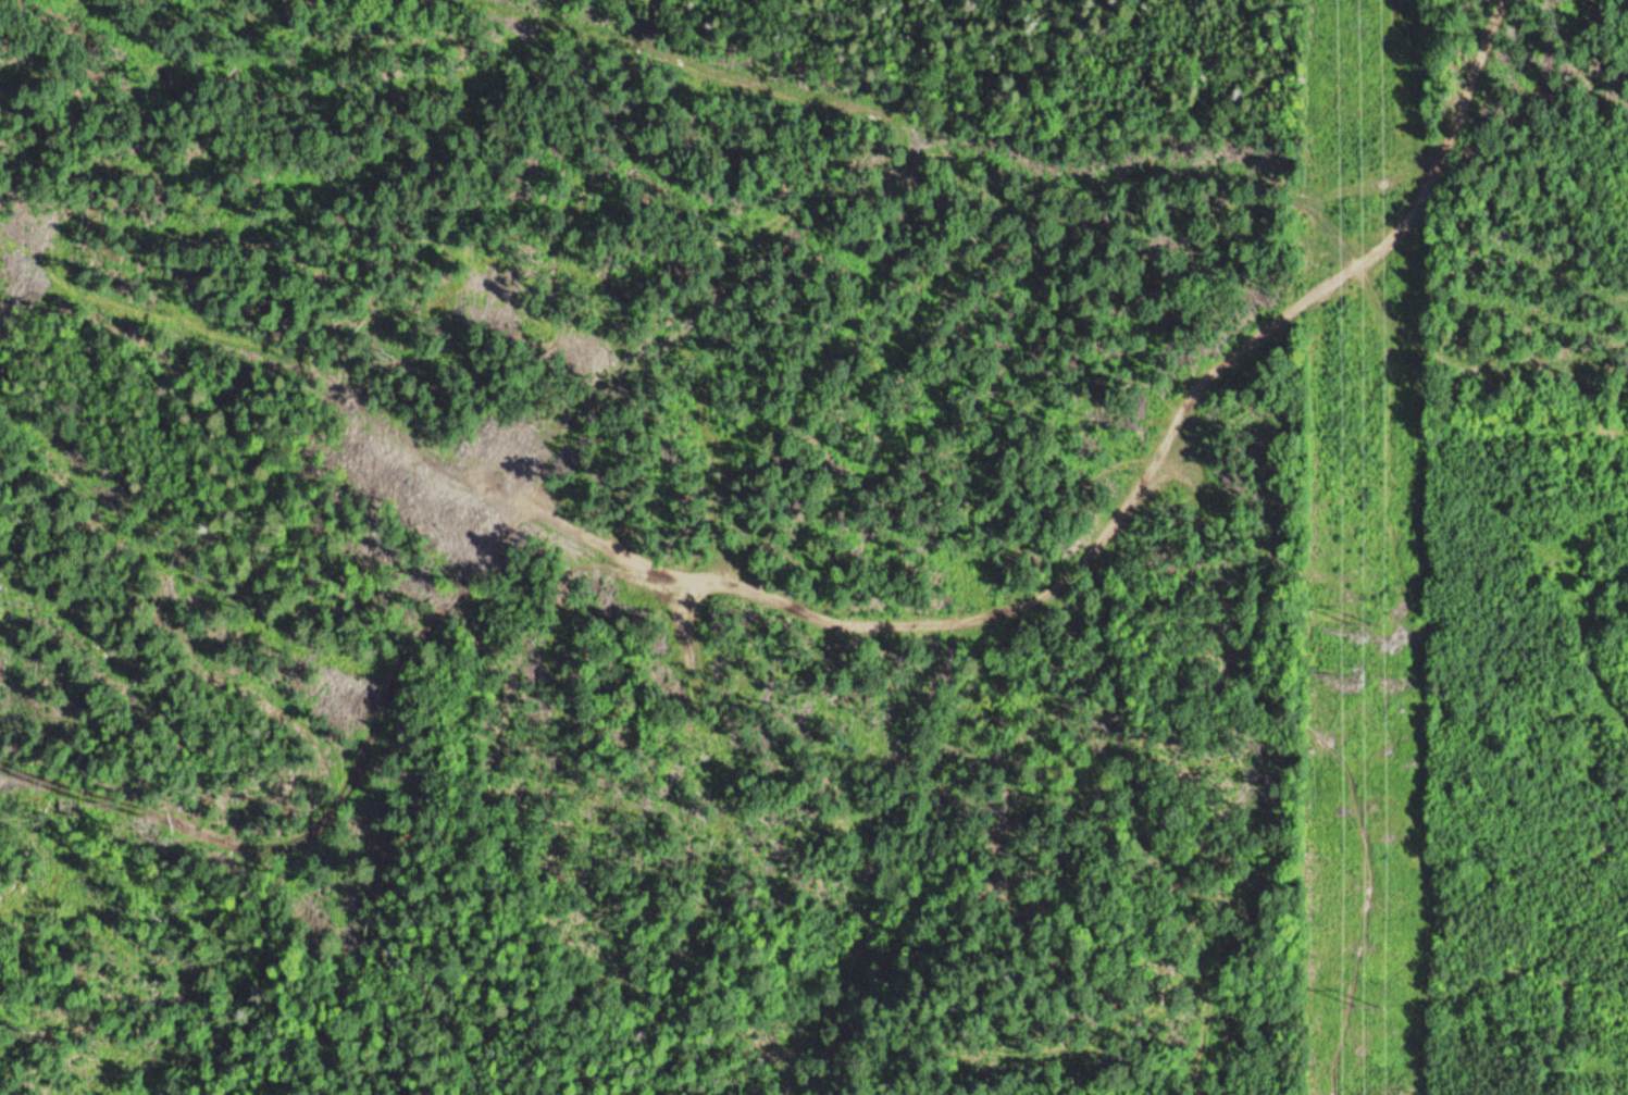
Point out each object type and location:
power tower: (1378, 622)
power tower: (1372, 1003)

